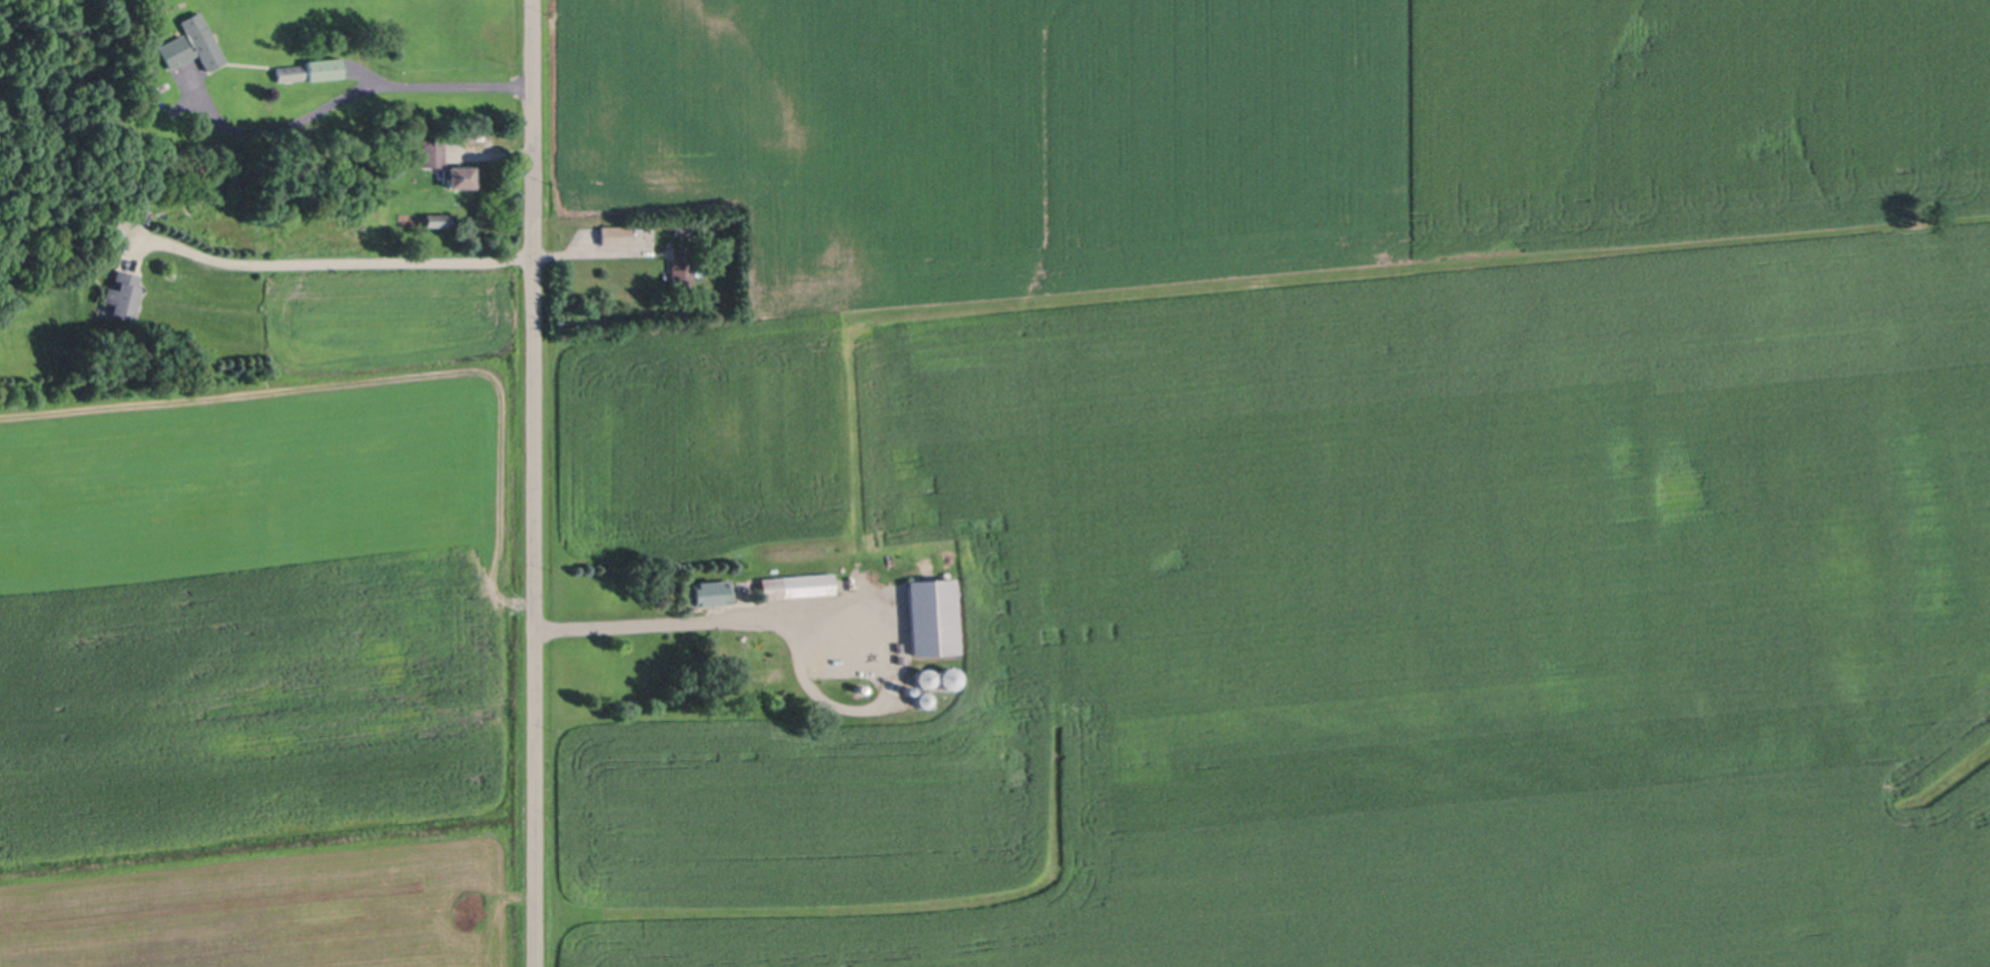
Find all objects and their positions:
building: (204, 38)
building: (325, 68)
building: (290, 72)
road: (354, 87)
building: (434, 152)
building: (462, 175)
building: (437, 218)
building: (683, 230)
building: (615, 233)
road: (390, 263)
building: (681, 265)
building: (123, 293)
crop: (1300, 479)
road: (532, 483)
building: (797, 584)
building: (711, 593)
building: (932, 614)
road: (669, 621)
building: (846, 663)
building: (948, 676)
building: (923, 677)
building: (861, 687)
building: (907, 688)
building: (922, 698)

